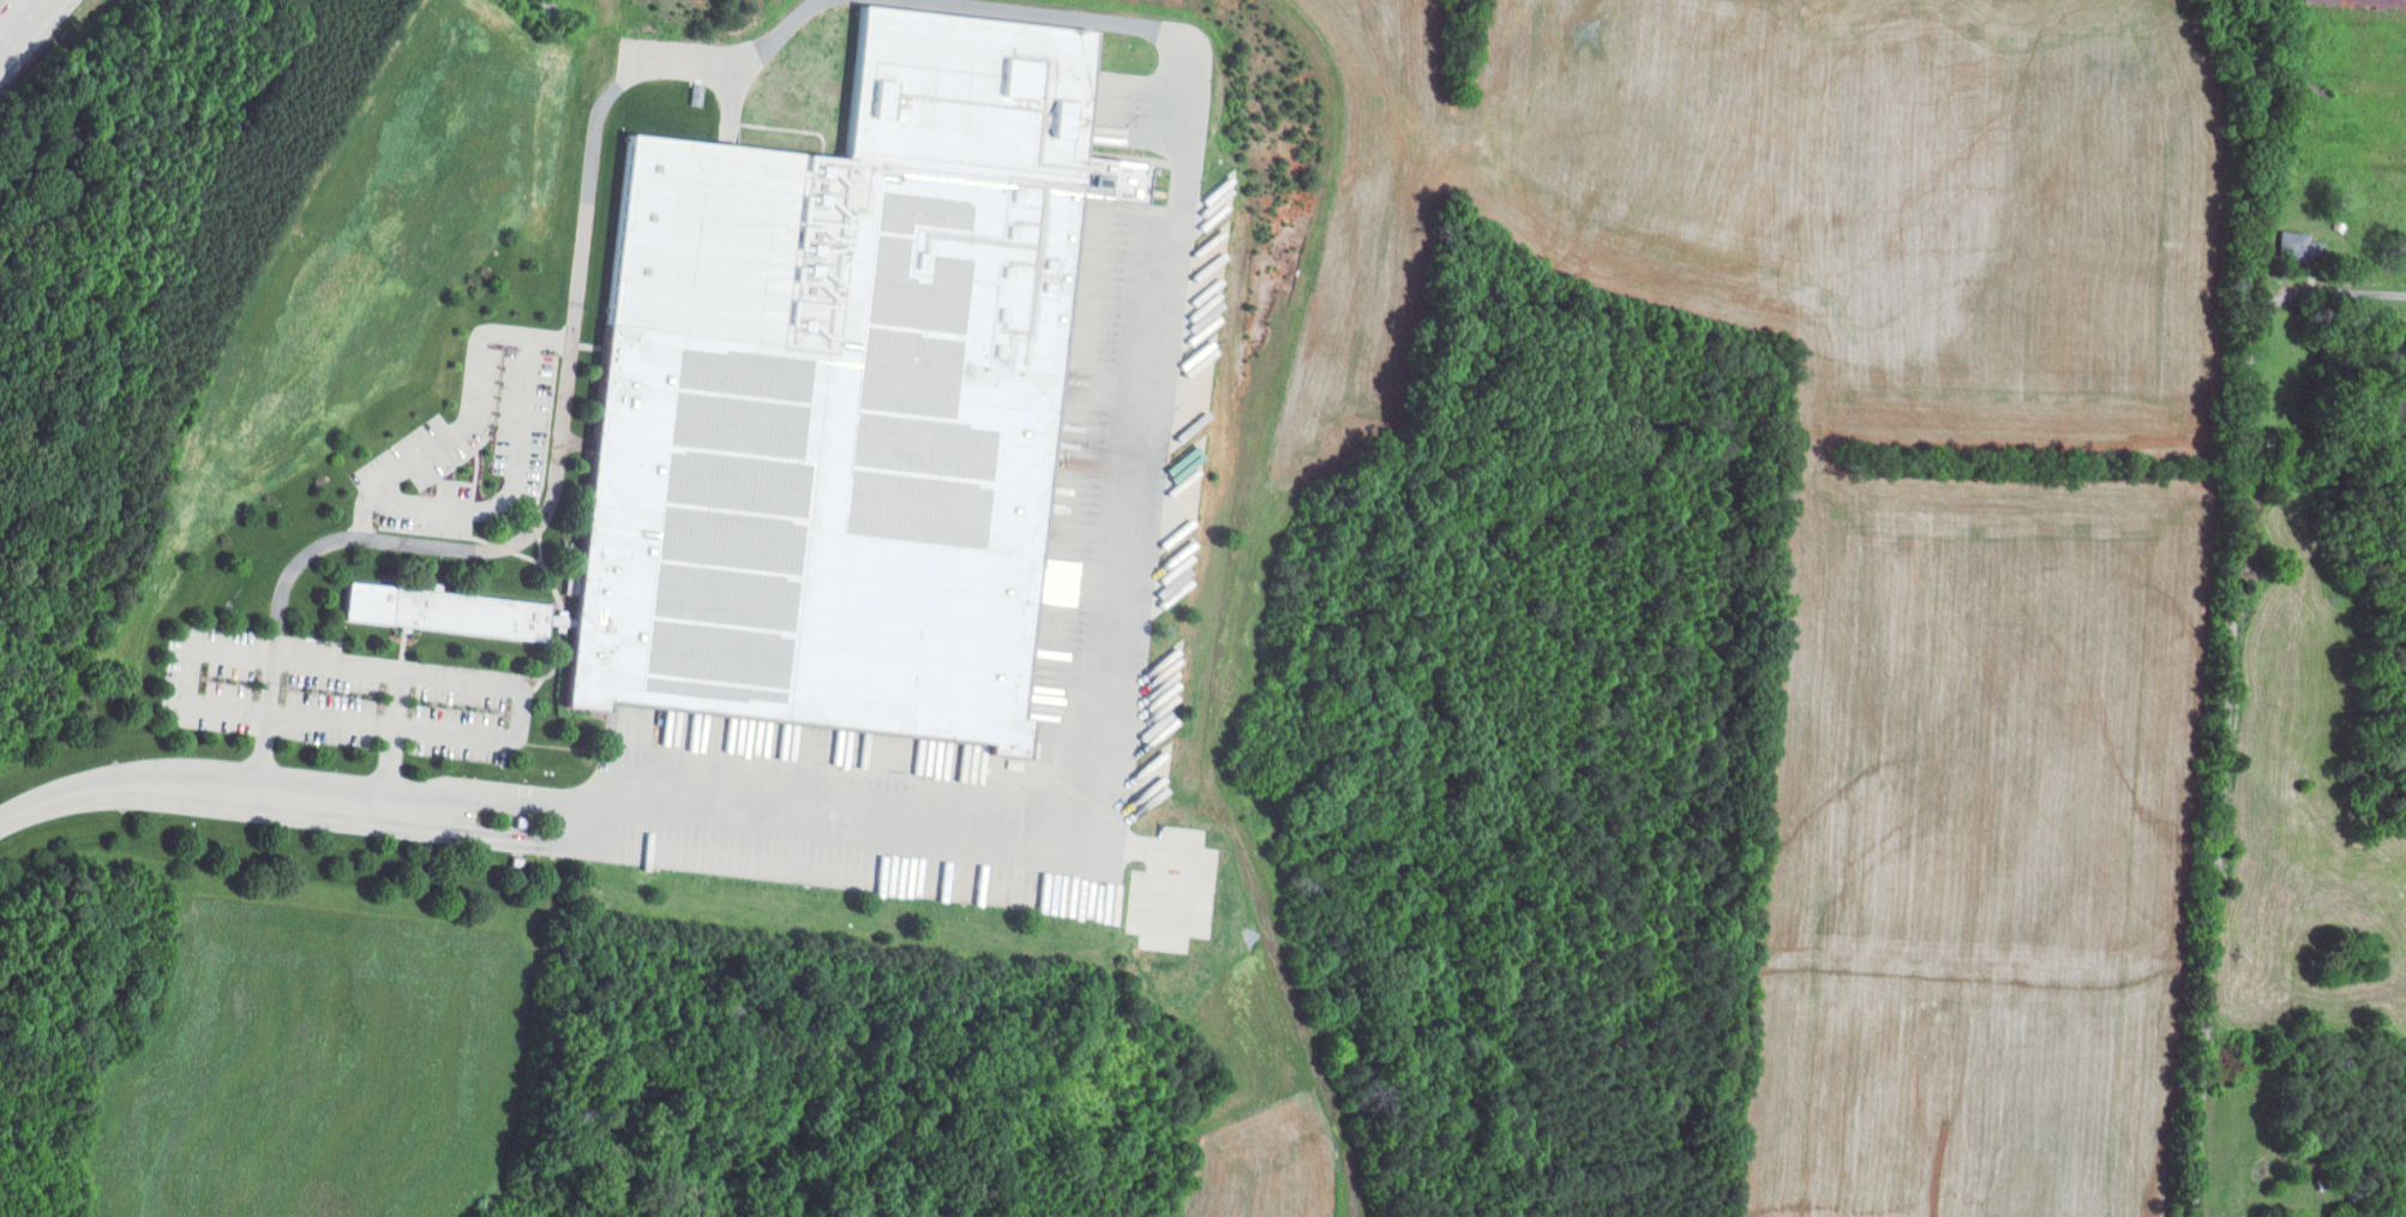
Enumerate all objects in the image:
road: (10, 11)
road: (13, 17)
building: (2291, 245)
road: (568, 364)
building: (834, 394)
road: (469, 416)
building: (438, 610)
road: (440, 678)
road: (2231, 689)
road: (1103, 706)
road: (390, 761)
road: (161, 784)

